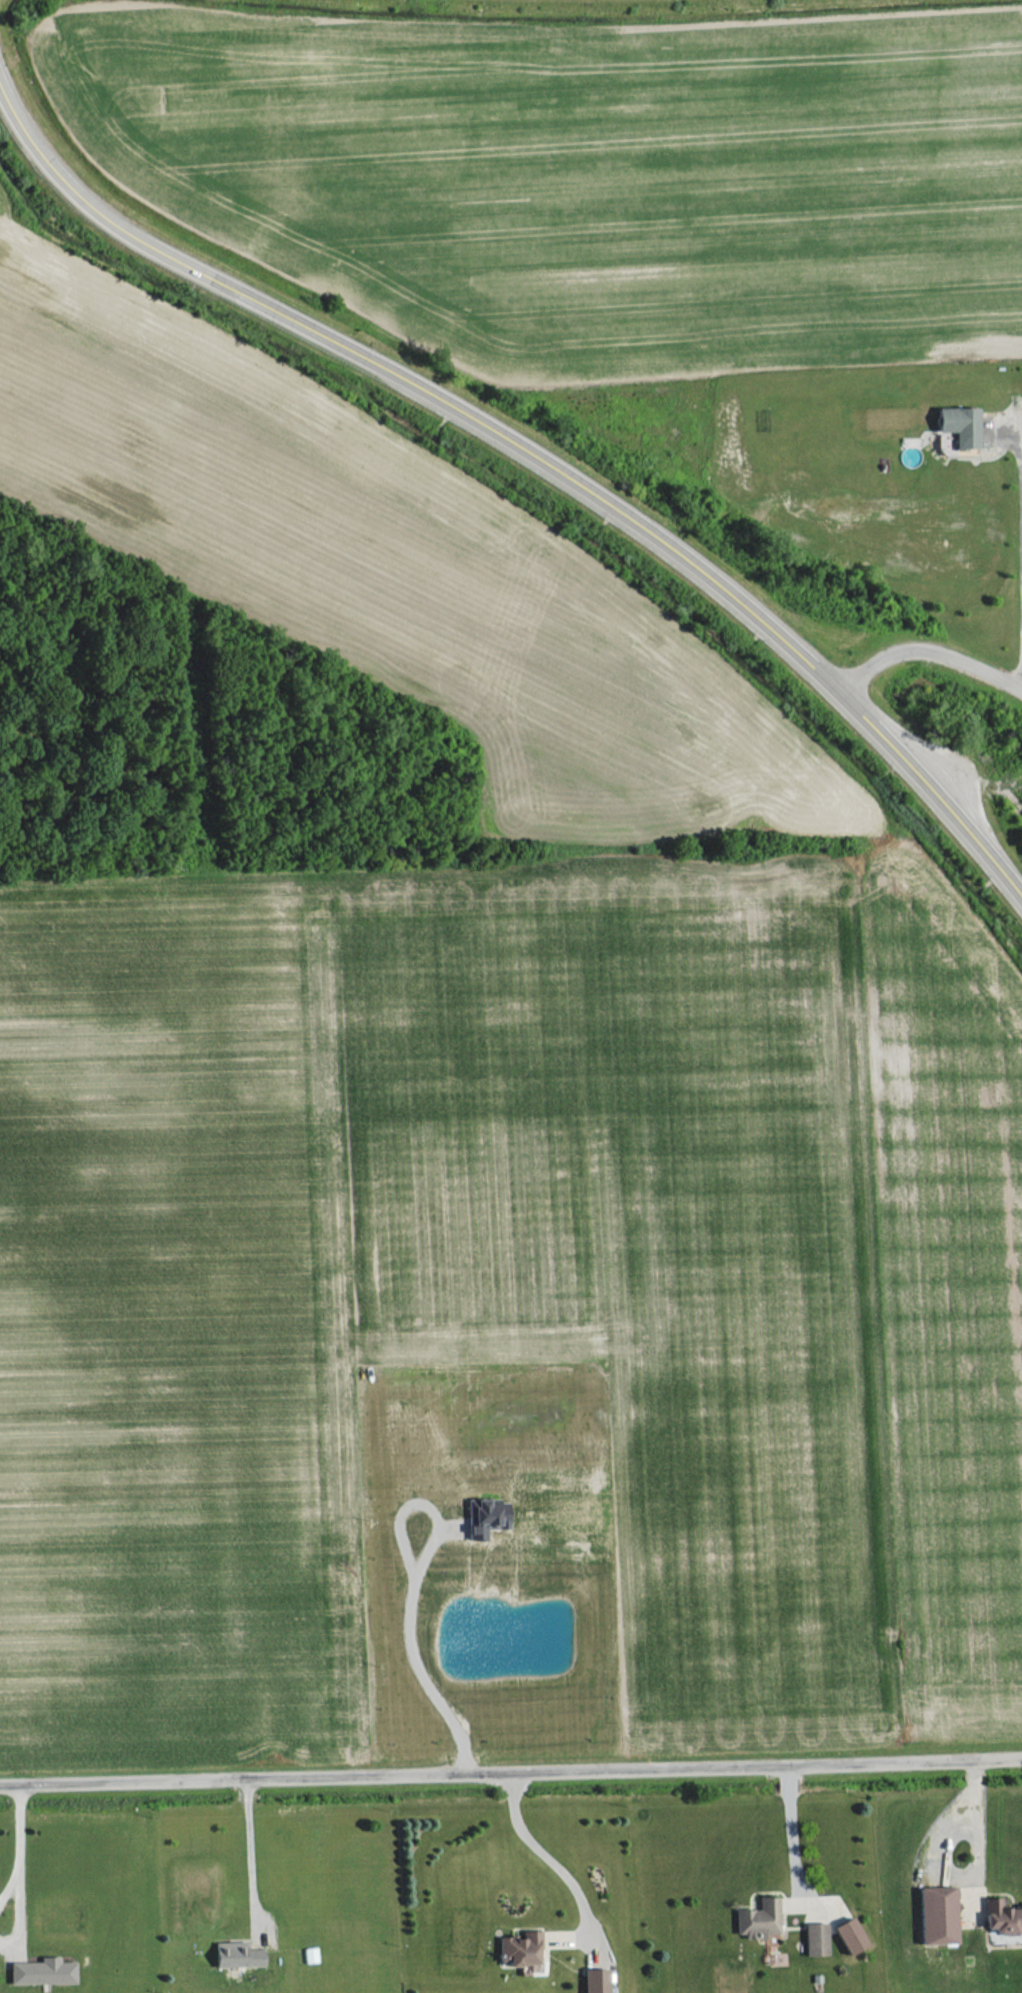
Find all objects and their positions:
building: (961, 427)
road: (1011, 431)
road: (530, 455)
road: (927, 645)
road: (1020, 676)
building: (486, 1517)
road: (395, 1587)
road: (510, 1765)
road: (14, 1821)
road: (780, 1822)
road: (245, 1854)
road: (538, 1854)
road: (7, 1875)
road: (14, 1906)
building: (928, 1918)
building: (752, 1919)
building: (997, 1919)
building: (840, 1936)
building: (808, 1940)
building: (521, 1949)
building: (236, 1956)
building: (308, 1956)
building: (42, 1972)
building: (596, 1981)

